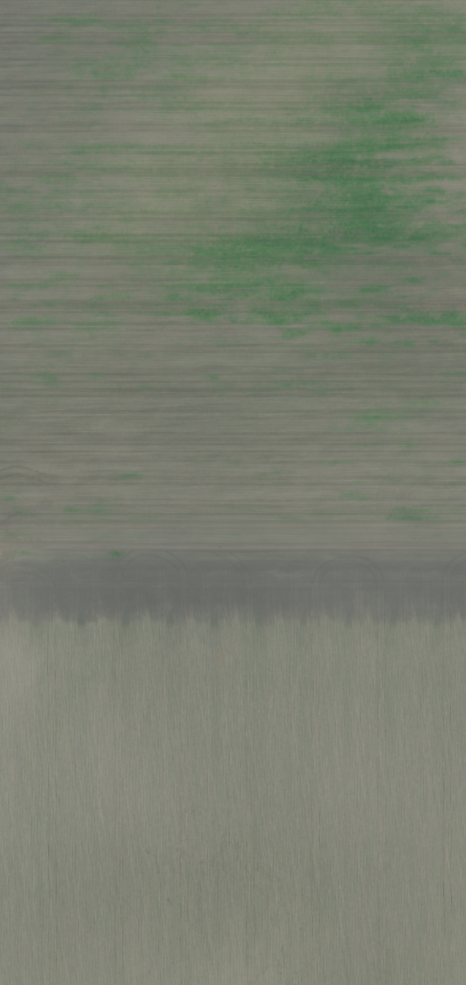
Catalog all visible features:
road: (233, 548)

